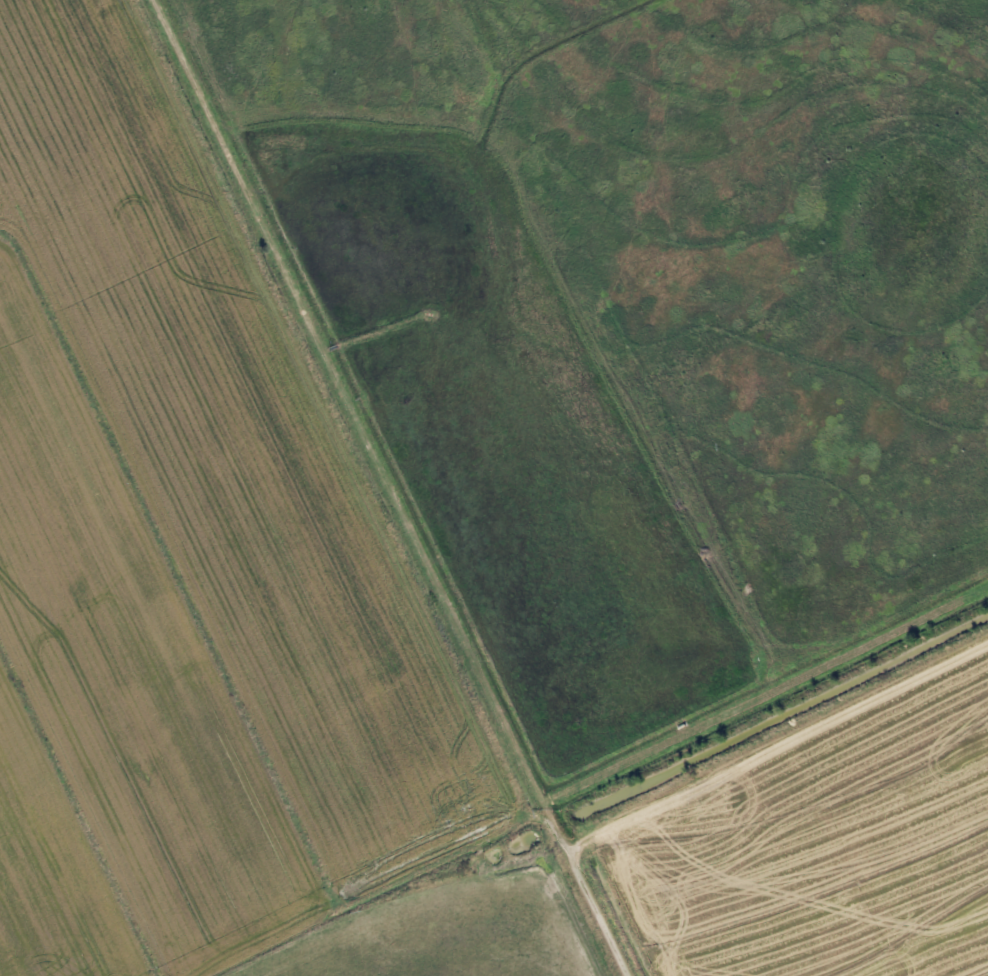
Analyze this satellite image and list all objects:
road: (396, 488)

